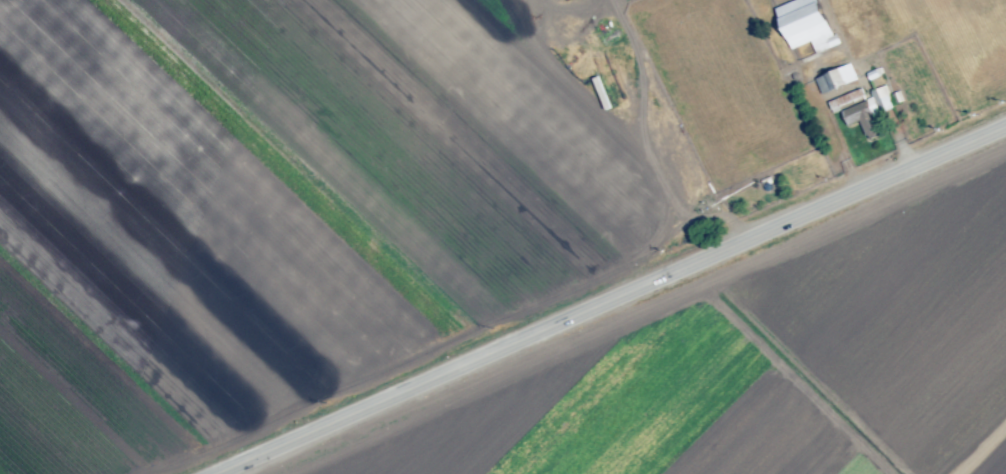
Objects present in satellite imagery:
building: (802, 22)
building: (835, 79)
building: (882, 98)
building: (844, 99)
building: (861, 121)
building: (667, 135)
crop: (409, 187)
road: (616, 303)
crop: (755, 364)

